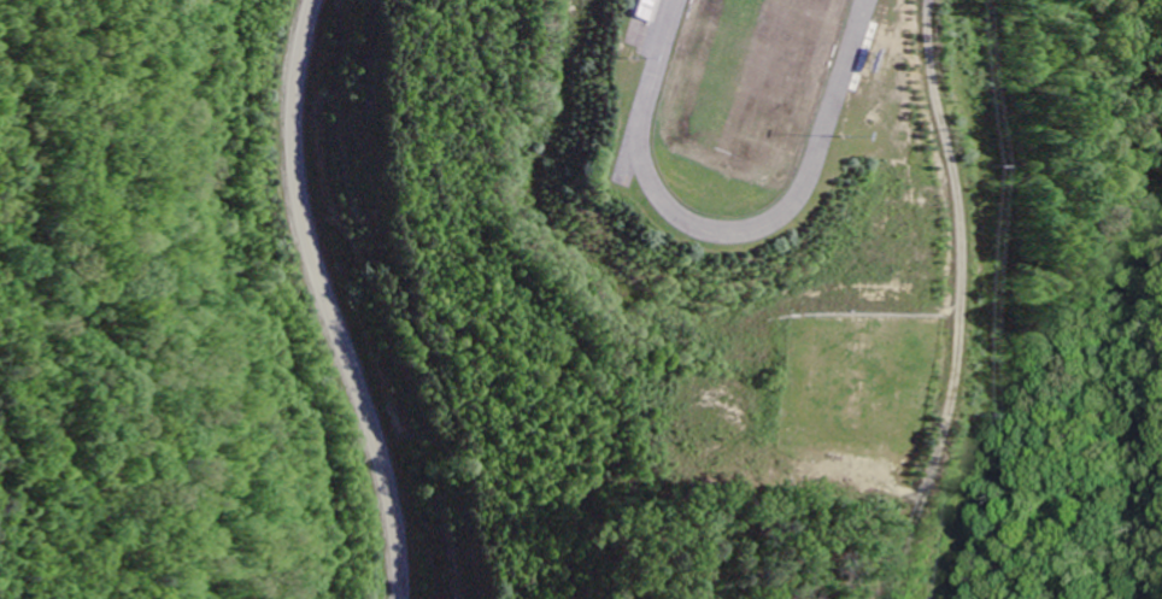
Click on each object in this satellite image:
park: (747, 77)
track: (738, 102)
road: (327, 301)
road: (956, 301)

